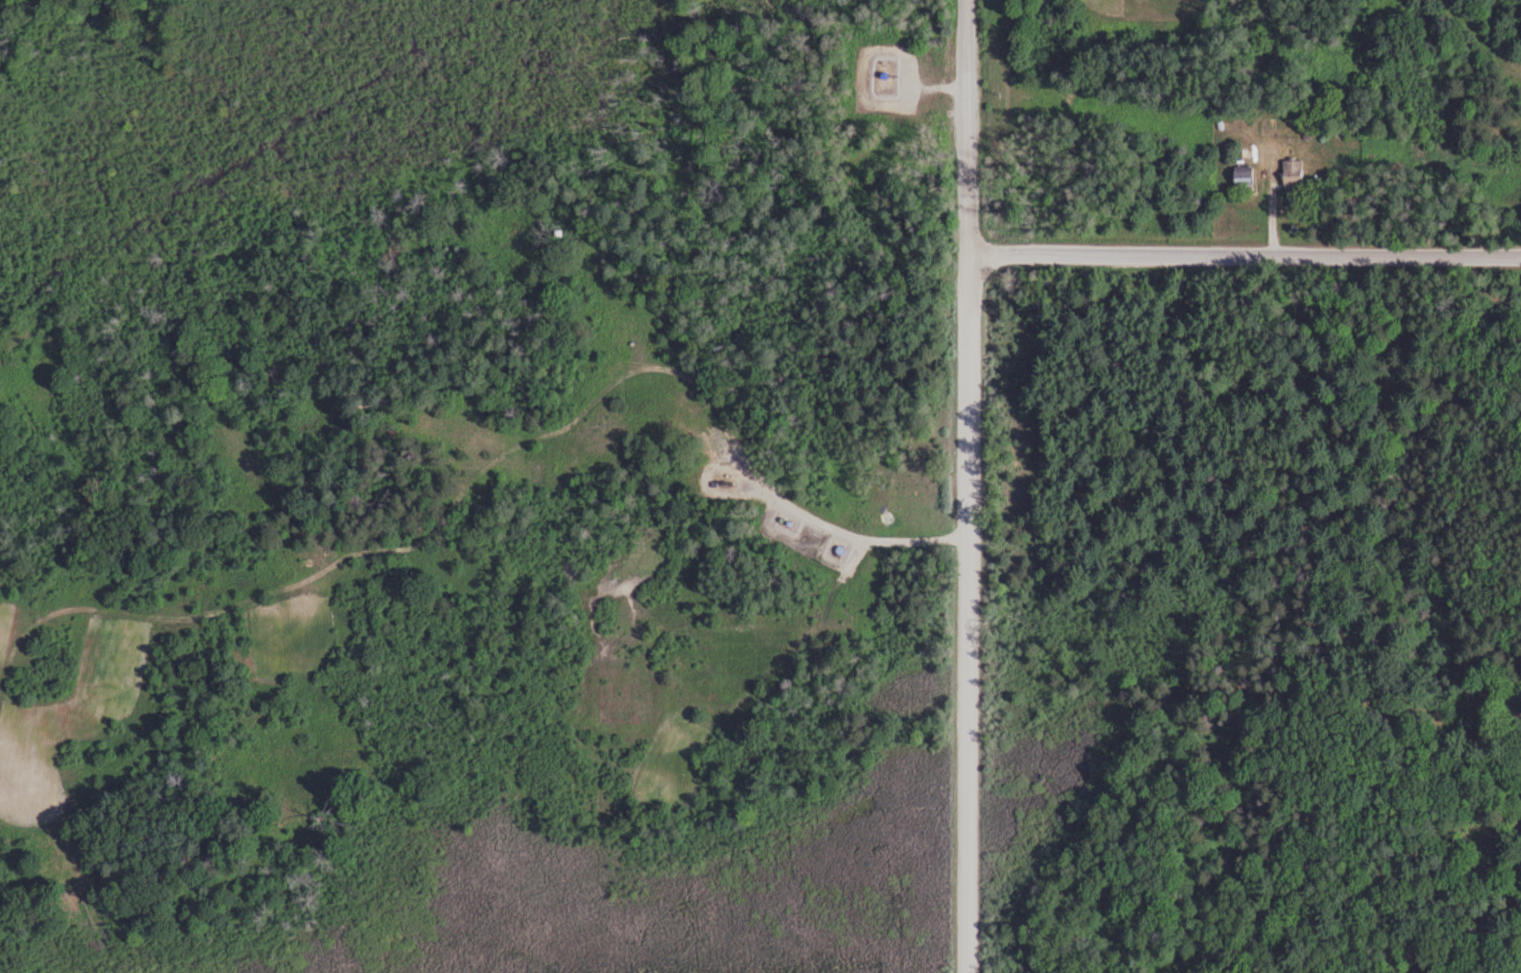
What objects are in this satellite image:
building: (1293, 173)
building: (1244, 179)
road: (1248, 252)
petroleum well: (728, 484)
road: (973, 486)

